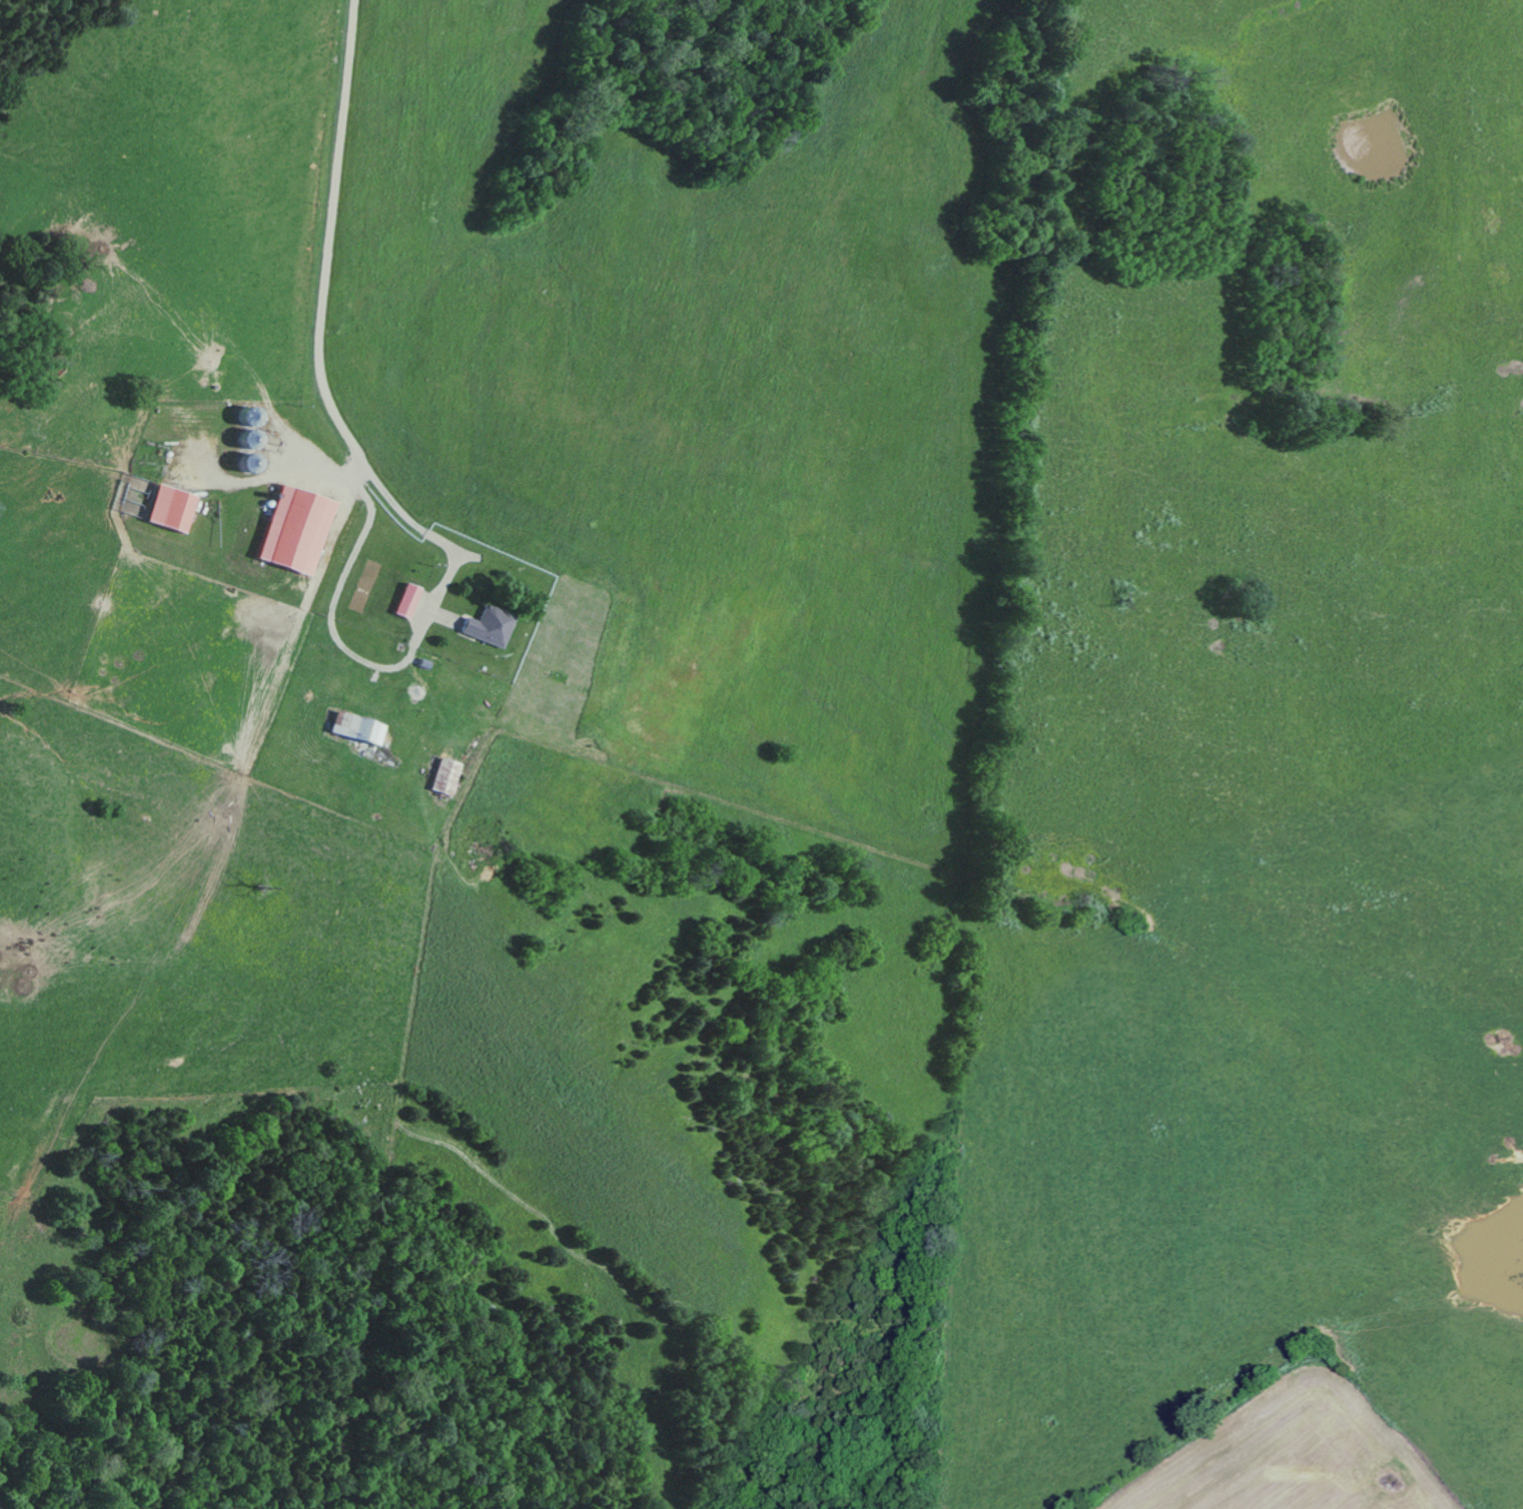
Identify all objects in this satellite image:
road: (330, 235)
road: (286, 473)
building: (174, 507)
building: (299, 529)
building: (410, 600)
building: (493, 626)
road: (401, 667)
building: (361, 728)
building: (448, 776)

